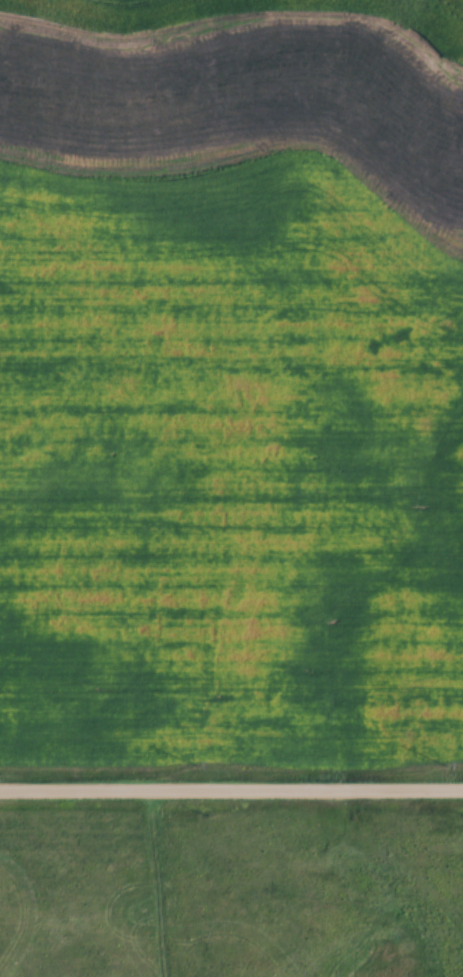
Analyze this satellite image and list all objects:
road: (231, 787)

